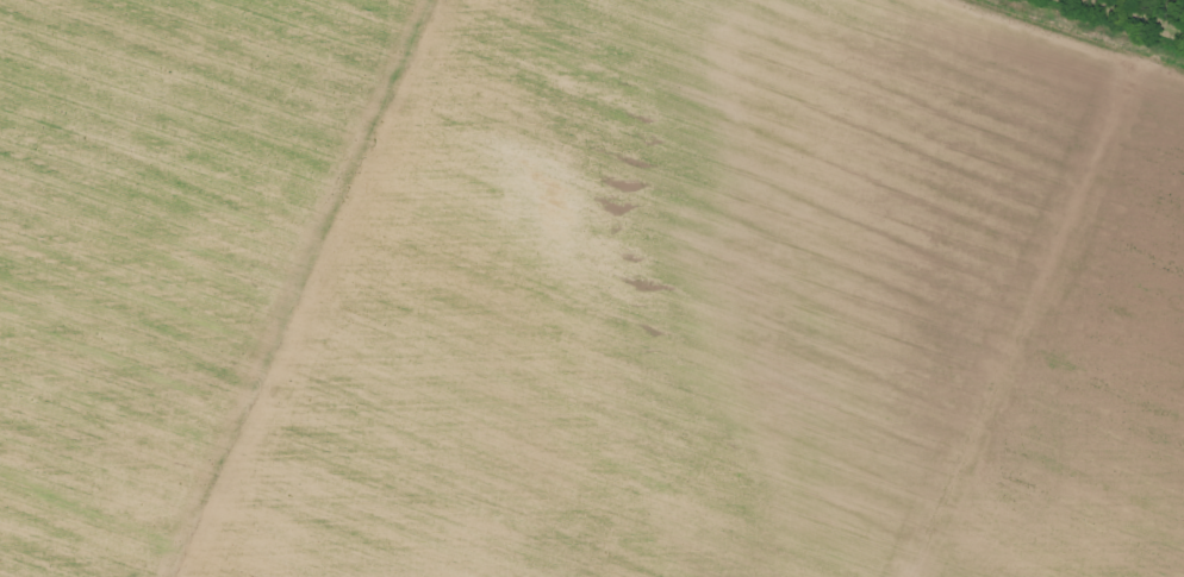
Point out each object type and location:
railway: (1126, 18)

